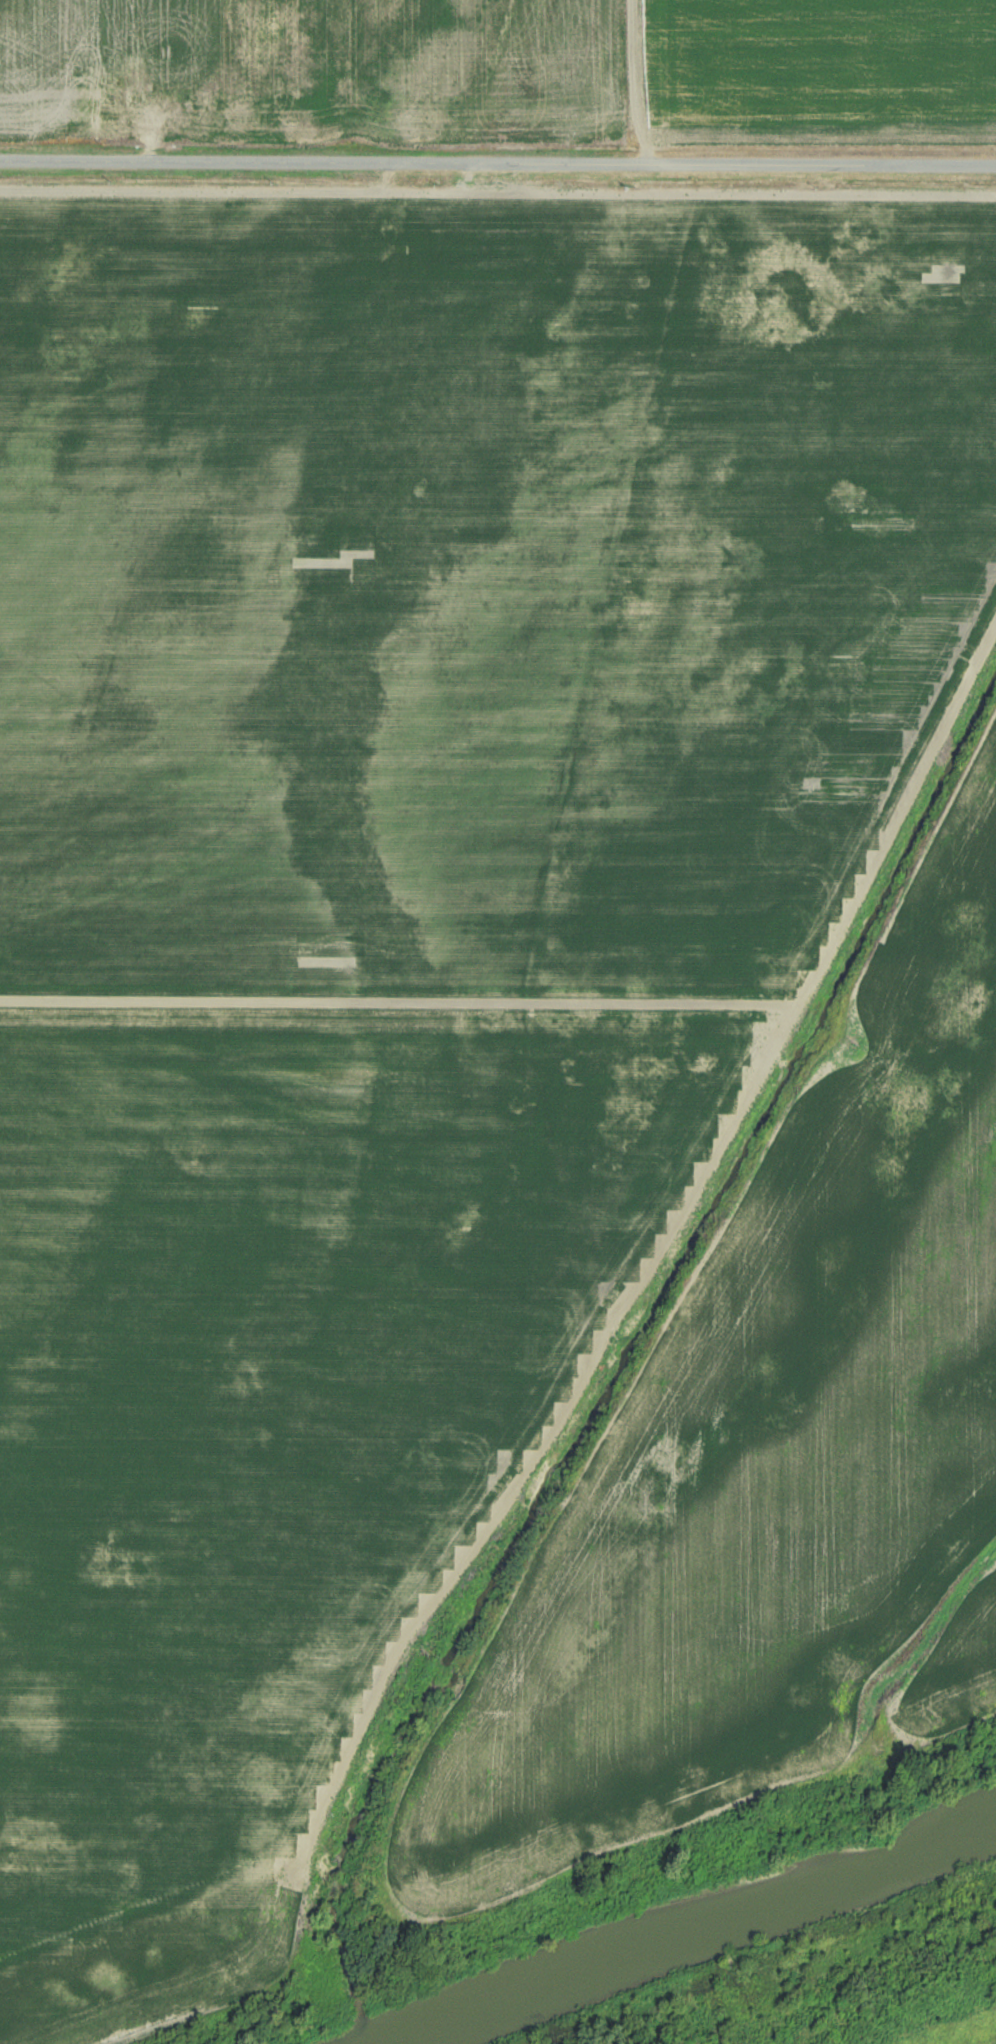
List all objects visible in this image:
road: (498, 165)

